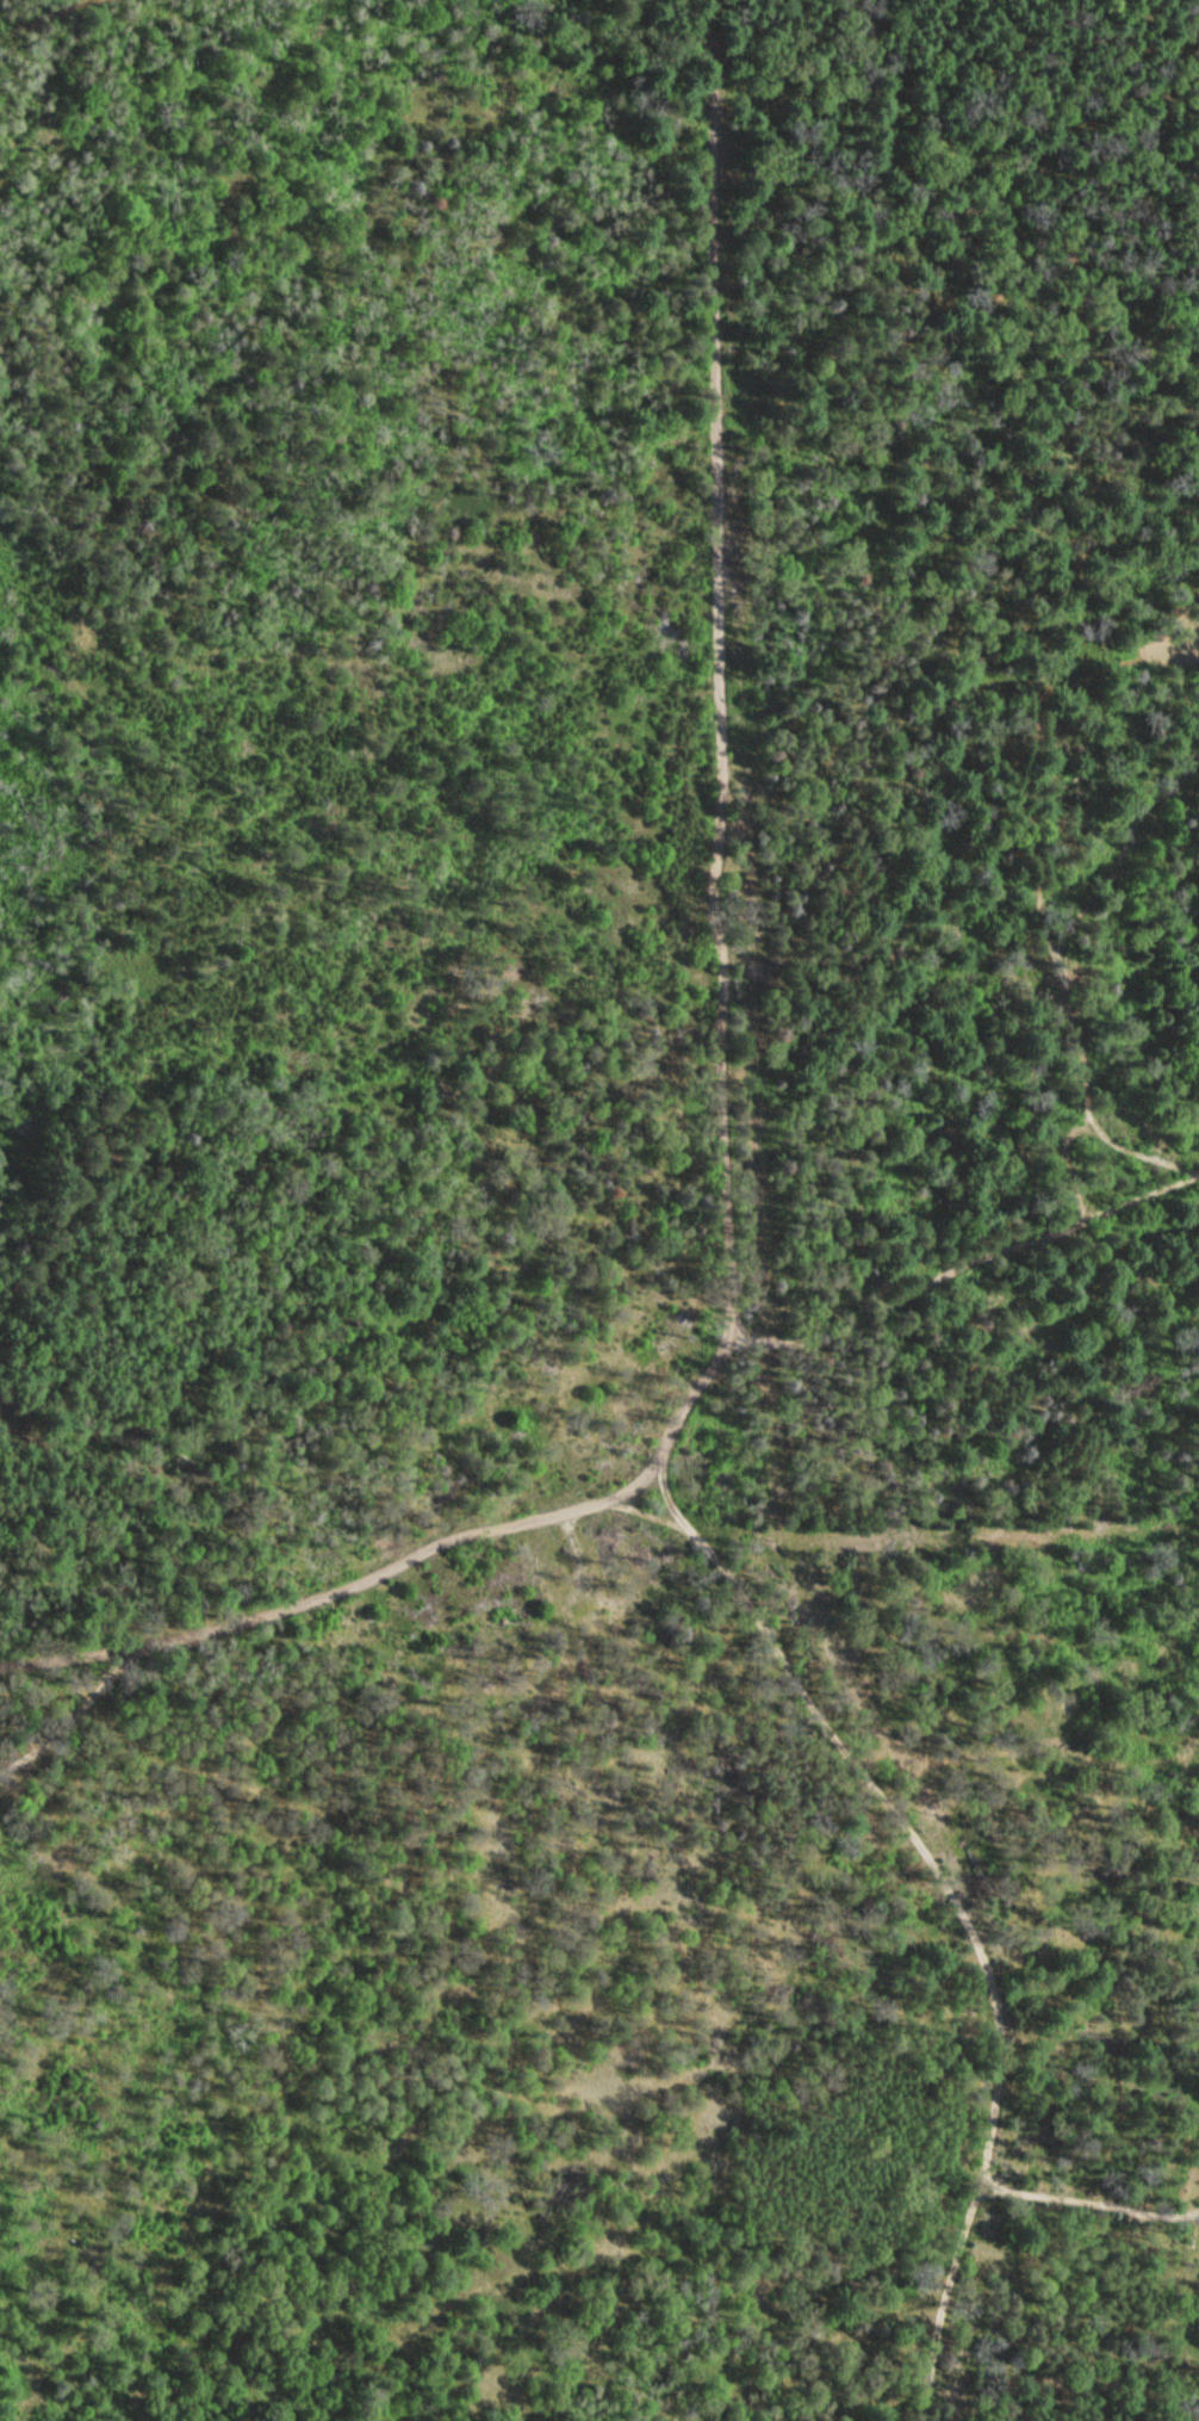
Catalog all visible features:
road: (26, 17)
road: (1195, 1175)
road: (993, 1253)
road: (728, 1282)
road: (765, 1344)
road: (560, 1509)
road: (244, 1618)
road: (1076, 2037)
road: (1088, 2200)

